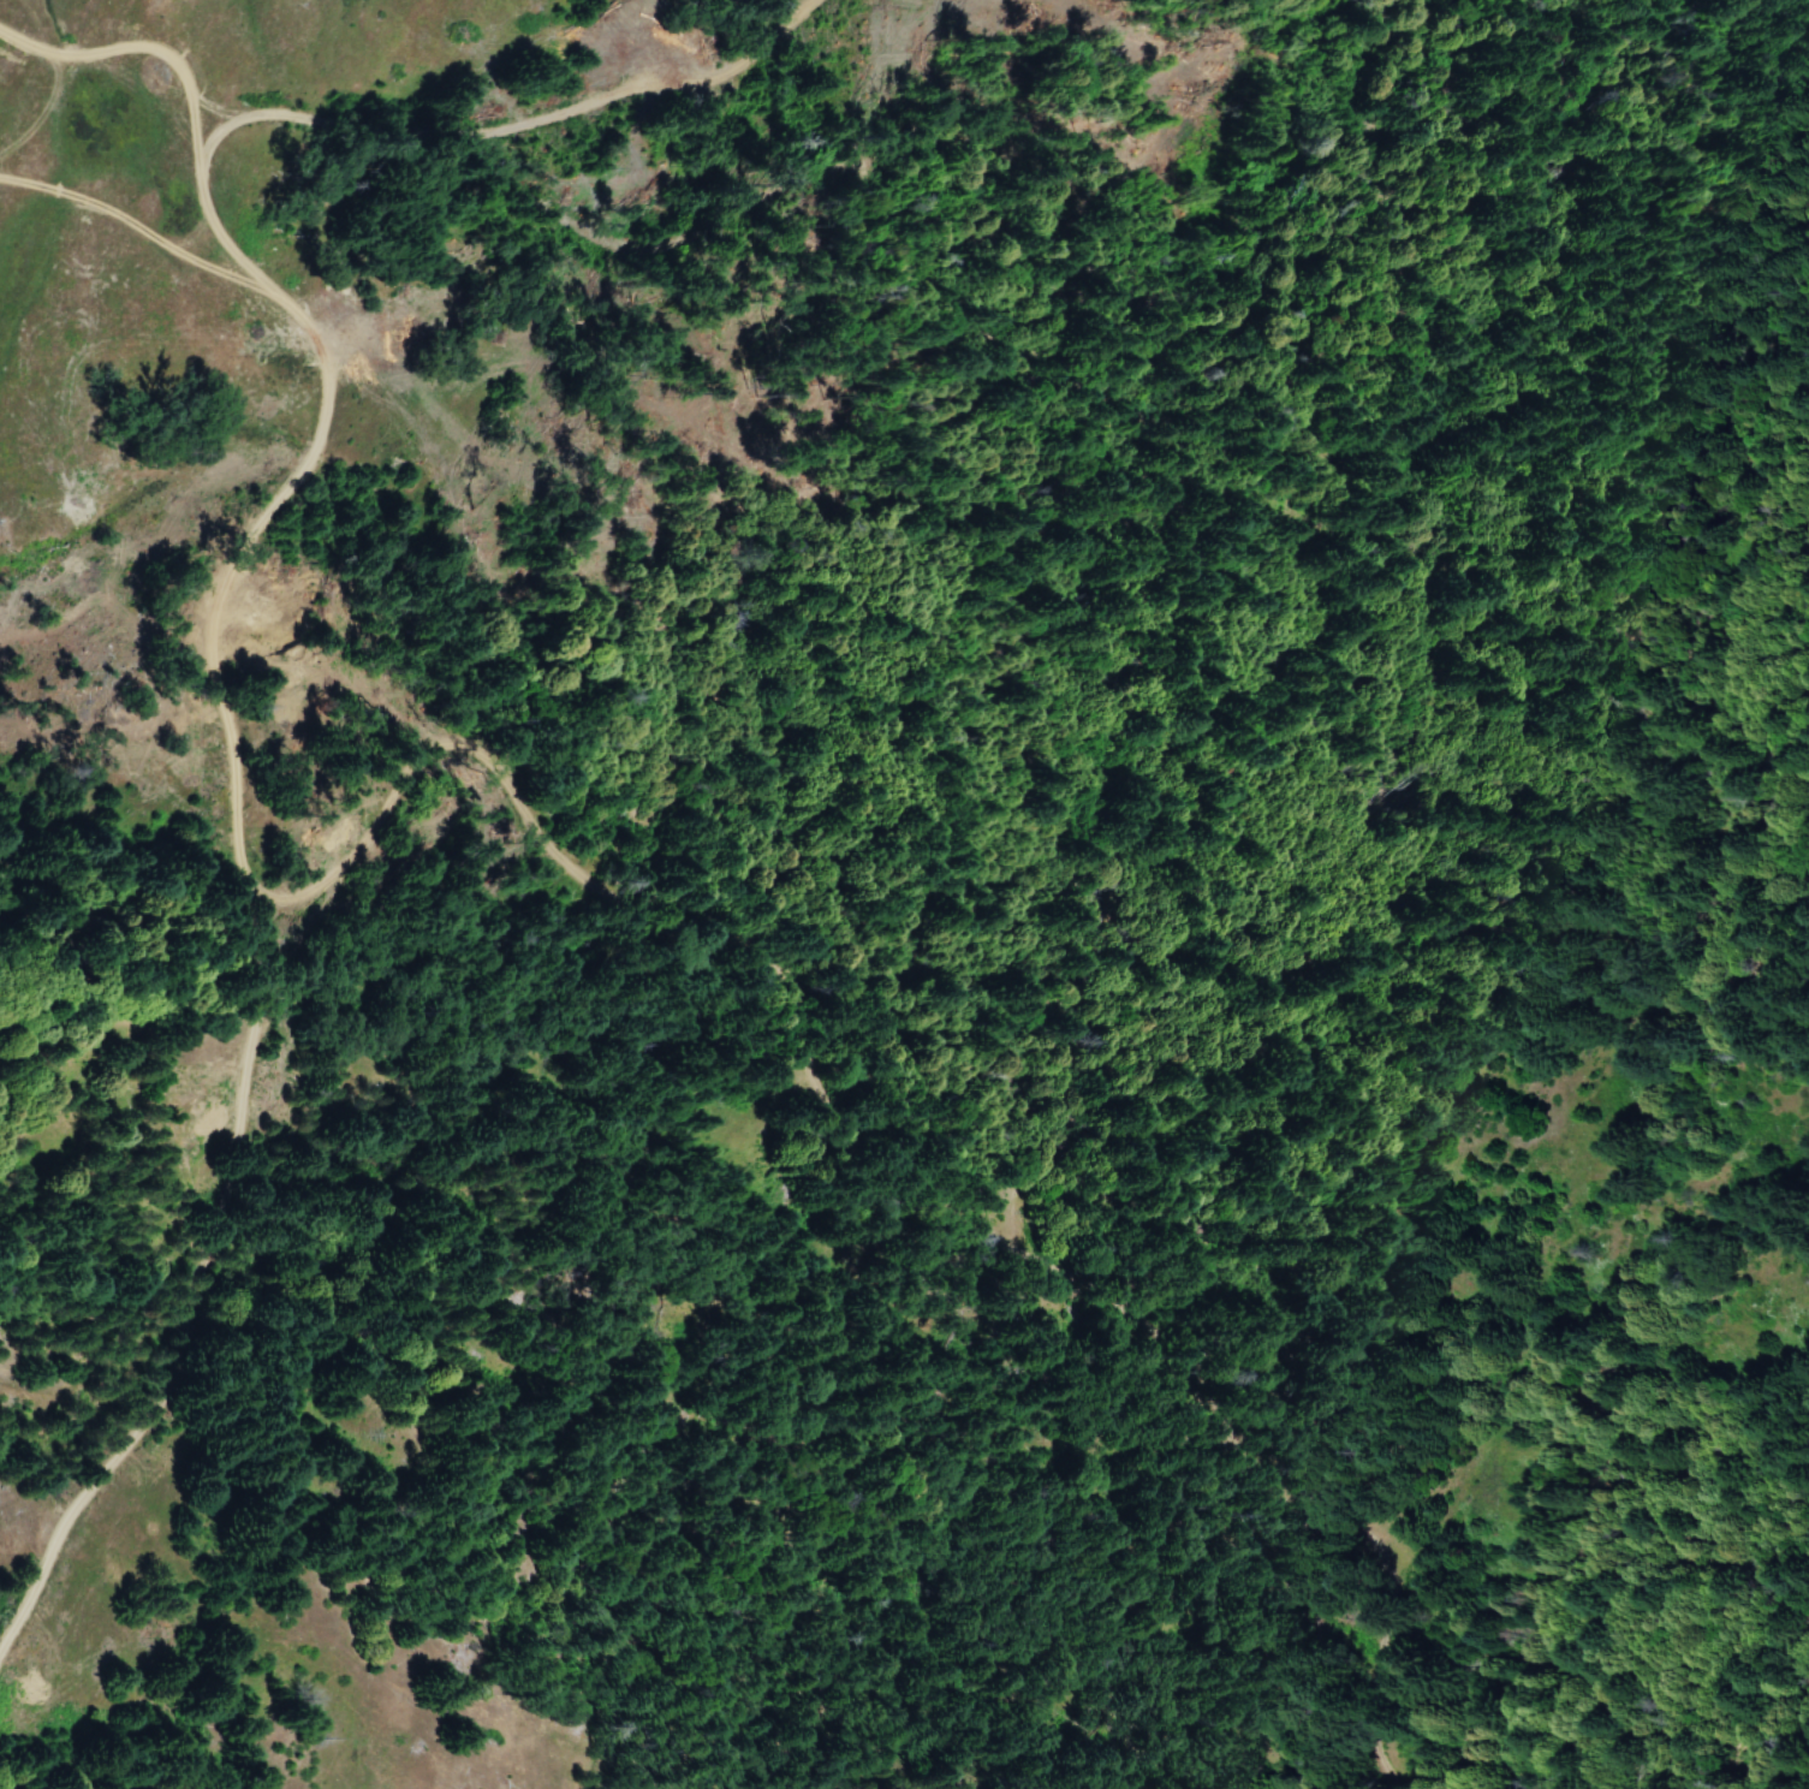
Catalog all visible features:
road: (460, 142)
road: (617, 985)

